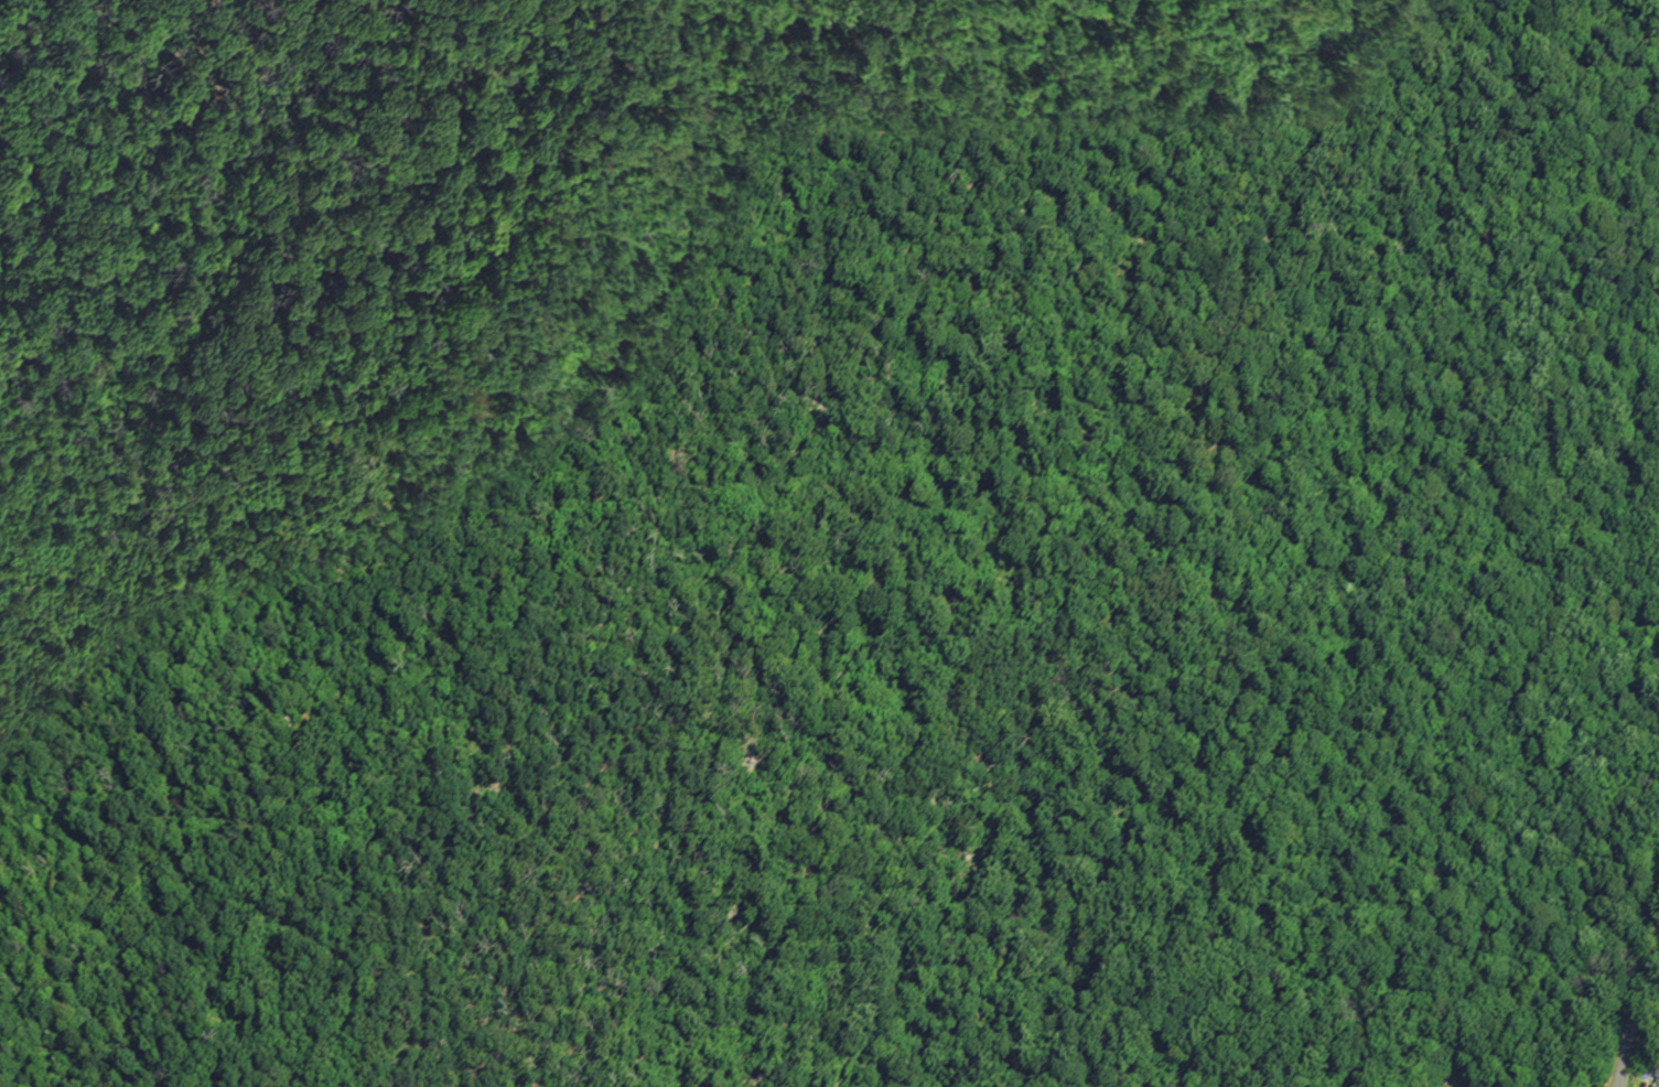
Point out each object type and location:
road: (115, 197)
road: (1635, 1003)
road: (1649, 1044)
building: (1657, 1079)

